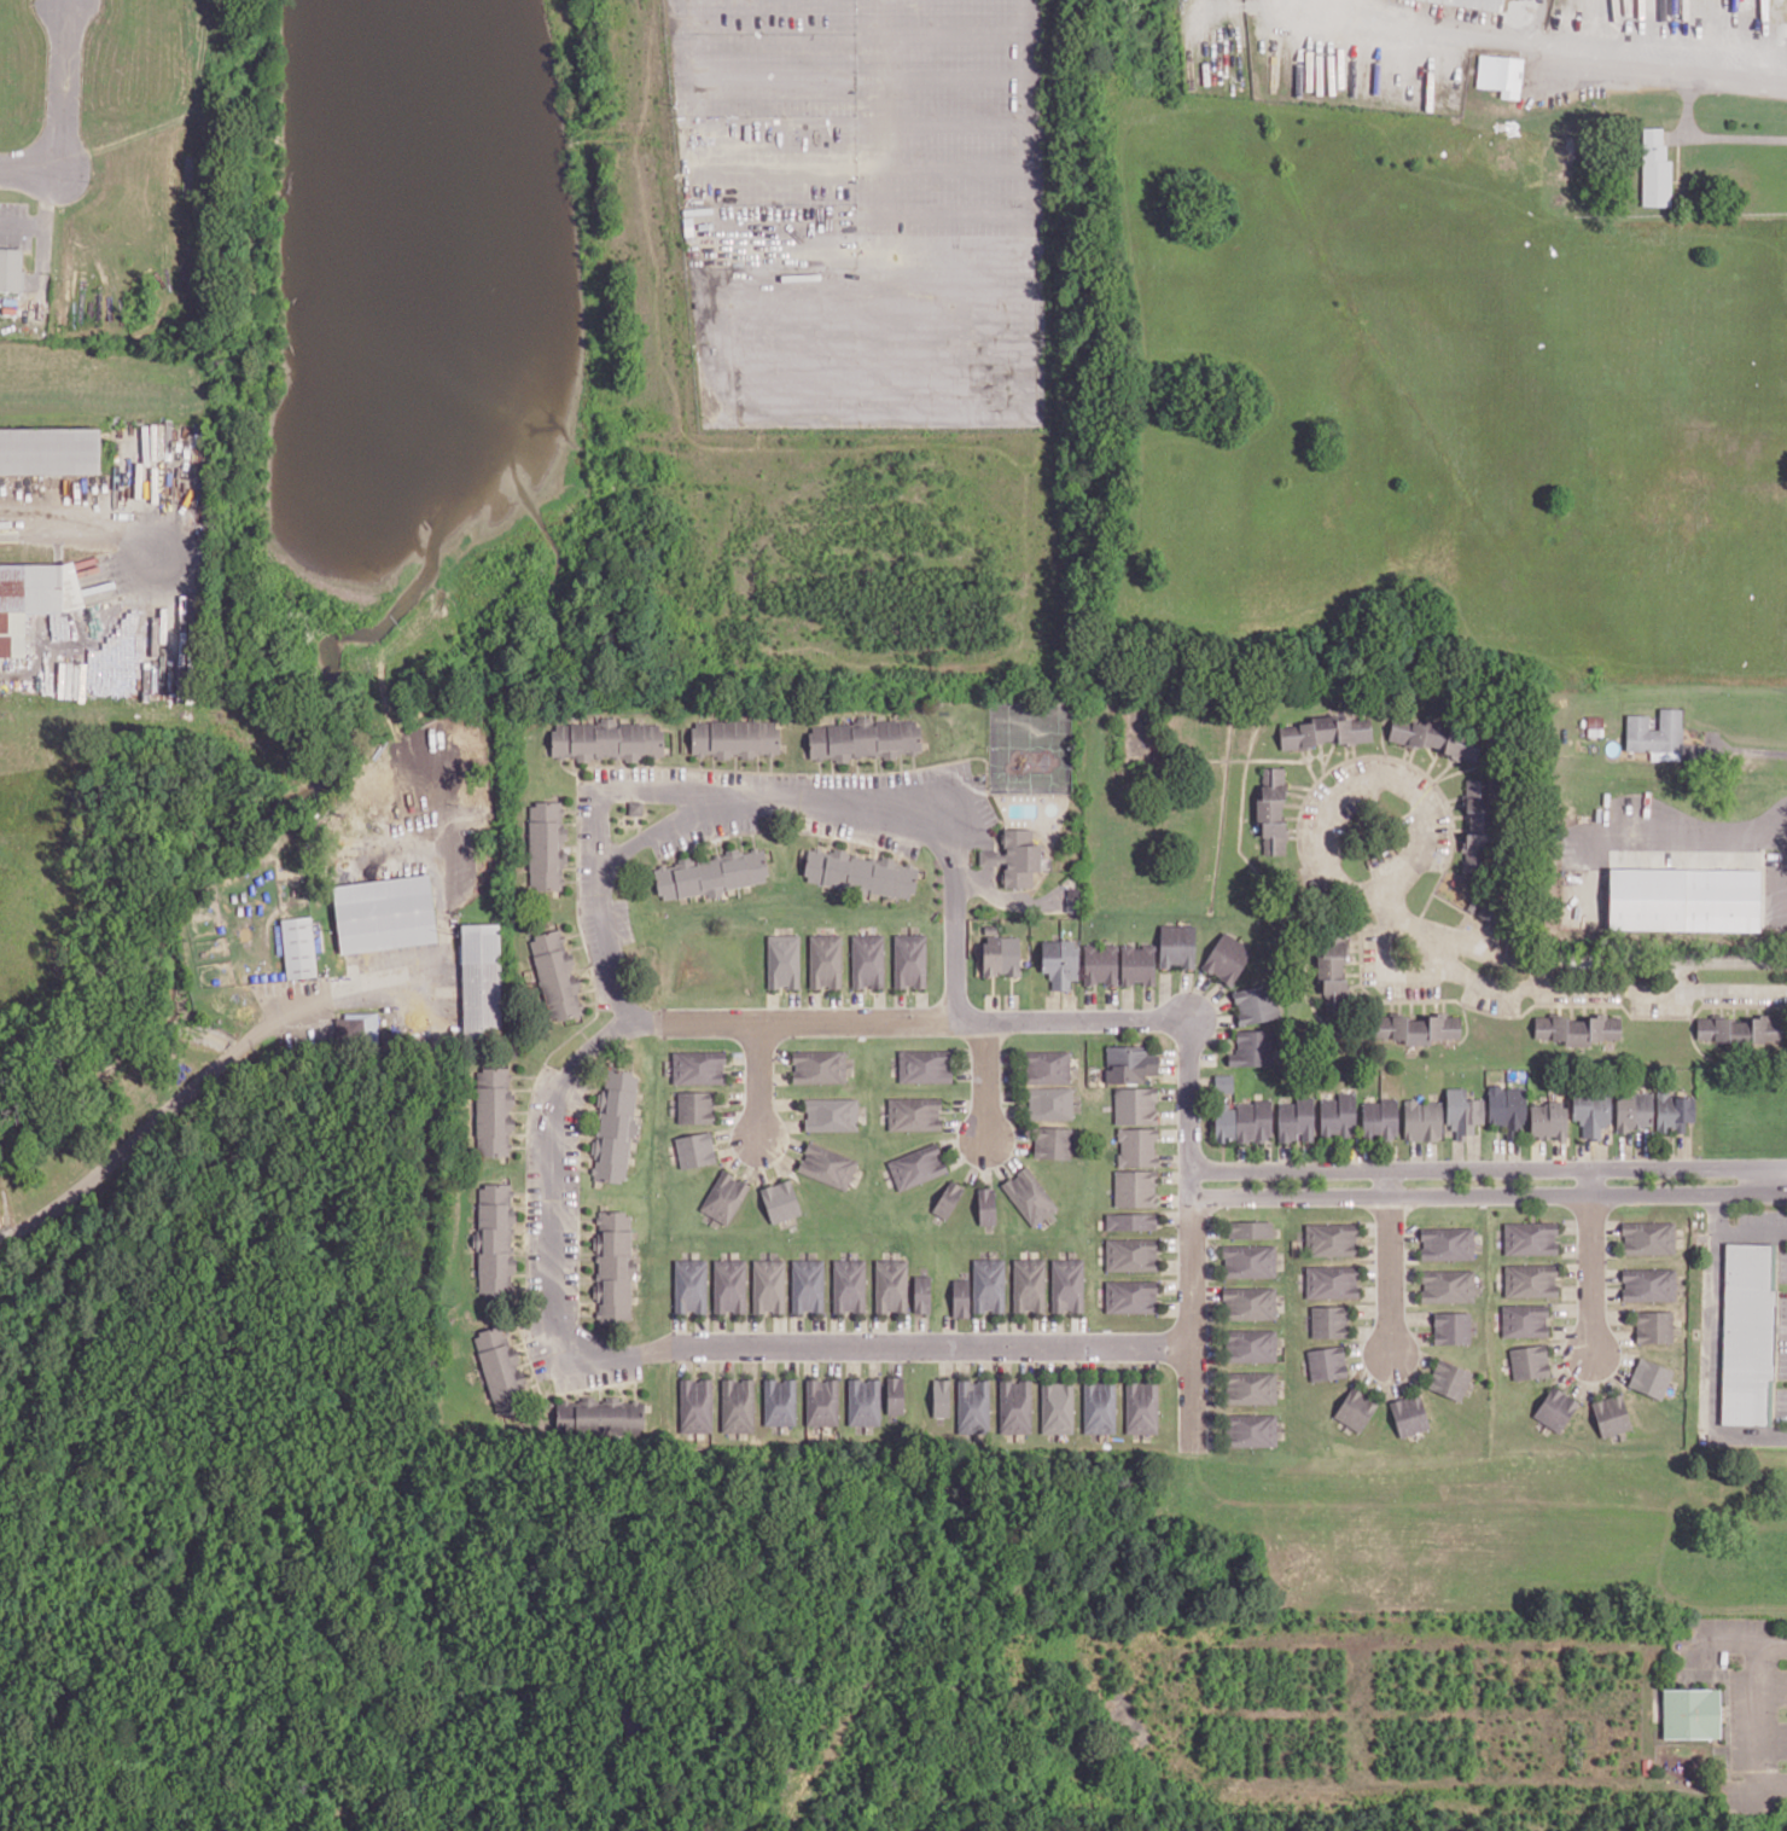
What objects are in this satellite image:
building: (1475, 4)
road: (1531, 21)
road: (1492, 33)
building: (1501, 74)
road: (1744, 79)
road: (69, 116)
road: (1706, 139)
building: (1654, 169)
building: (11, 268)
road: (875, 420)
building: (50, 451)
building: (31, 599)
building: (1326, 731)
building: (1655, 731)
building: (1434, 737)
building: (734, 738)
building: (863, 738)
building: (606, 739)
road: (1745, 748)
building: (1665, 755)
road: (1356, 787)
road: (623, 792)
road: (775, 797)
building: (1273, 813)
road: (1707, 836)
building: (546, 845)
flagpole: (1766, 848)
building: (1015, 858)
building: (858, 872)
building: (711, 874)
building: (1457, 893)
building: (1682, 897)
building: (1072, 899)
building: (384, 913)
building: (1177, 946)
building: (298, 947)
building: (1001, 954)
building: (1227, 958)
building: (784, 960)
building: (825, 960)
building: (867, 960)
building: (909, 960)
building: (1060, 961)
road: (1572, 961)
building: (1100, 964)
building: (1137, 964)
building: (1333, 972)
building: (555, 975)
road: (1543, 976)
road: (1680, 976)
building: (481, 978)
road: (1596, 990)
building: (1255, 1004)
road: (925, 1021)
building: (1418, 1027)
building: (356, 1028)
building: (1578, 1028)
building: (1740, 1029)
building: (1252, 1048)
building: (1129, 1063)
building: (925, 1065)
building: (698, 1066)
building: (819, 1066)
building: (1047, 1066)
road: (988, 1080)
road: (759, 1081)
building: (1223, 1082)
road: (190, 1085)
building: (1049, 1103)
building: (1135, 1105)
building: (695, 1106)
building: (1507, 1106)
building: (1634, 1110)
building: (493, 1111)
building: (1674, 1111)
building: (831, 1114)
building: (914, 1114)
building: (1591, 1114)
building: (1338, 1116)
building: (1379, 1118)
building: (1296, 1120)
building: (1422, 1120)
building: (1548, 1120)
building: (1253, 1121)
building: (1223, 1122)
street lamp: (1176, 1123)
building: (615, 1124)
building: (1052, 1143)
building: (1137, 1146)
building: (695, 1150)
road: (1176, 1158)
building: (827, 1166)
building: (916, 1166)
road: (1489, 1168)
building: (1135, 1187)
road: (1490, 1193)
building: (1029, 1196)
building: (724, 1197)
building: (948, 1198)
building: (780, 1201)
road: (1717, 1203)
building: (986, 1205)
building: (1130, 1221)
road: (1577, 1225)
building: (1250, 1228)
road: (1745, 1230)
street lamp: (1610, 1234)
building: (1530, 1237)
building: (1648, 1237)
building: (495, 1239)
building: (1331, 1239)
street lamp: (1409, 1243)
building: (1448, 1243)
road: (1193, 1244)
road: (1578, 1248)
building: (1131, 1254)
road: (1390, 1260)
road: (1593, 1260)
building: (1250, 1261)
building: (615, 1266)
building: (1530, 1280)
building: (1332, 1281)
building: (988, 1284)
building: (1029, 1284)
building: (1648, 1284)
building: (691, 1285)
building: (729, 1285)
building: (769, 1285)
building: (808, 1285)
building: (849, 1285)
building: (891, 1285)
building: (1067, 1285)
building: (1448, 1285)
building: (921, 1294)
building: (1130, 1296)
building: (960, 1297)
building: (1250, 1303)
road: (1573, 1308)
building: (1525, 1320)
building: (1329, 1321)
building: (1654, 1326)
building: (1451, 1327)
building: (1747, 1332)
road: (1775, 1332)
building: (1251, 1345)
road: (681, 1347)
road: (1711, 1359)
building: (1530, 1361)
building: (1327, 1362)
building: (500, 1368)
road: (1587, 1374)
building: (1651, 1378)
street lamp: (1373, 1379)
building: (1449, 1379)
street lamp: (1574, 1379)
building: (1251, 1388)
building: (895, 1394)
building: (941, 1397)
building: (780, 1401)
building: (822, 1401)
building: (863, 1401)
building: (695, 1405)
building: (738, 1405)
building: (973, 1406)
building: (1015, 1406)
building: (1058, 1407)
building: (1099, 1407)
building: (1141, 1407)
building: (1555, 1408)
building: (1355, 1409)
building: (1409, 1414)
building: (1611, 1414)
building: (599, 1417)
building: (1251, 1429)
building: (1690, 1713)
road: (1760, 1714)

